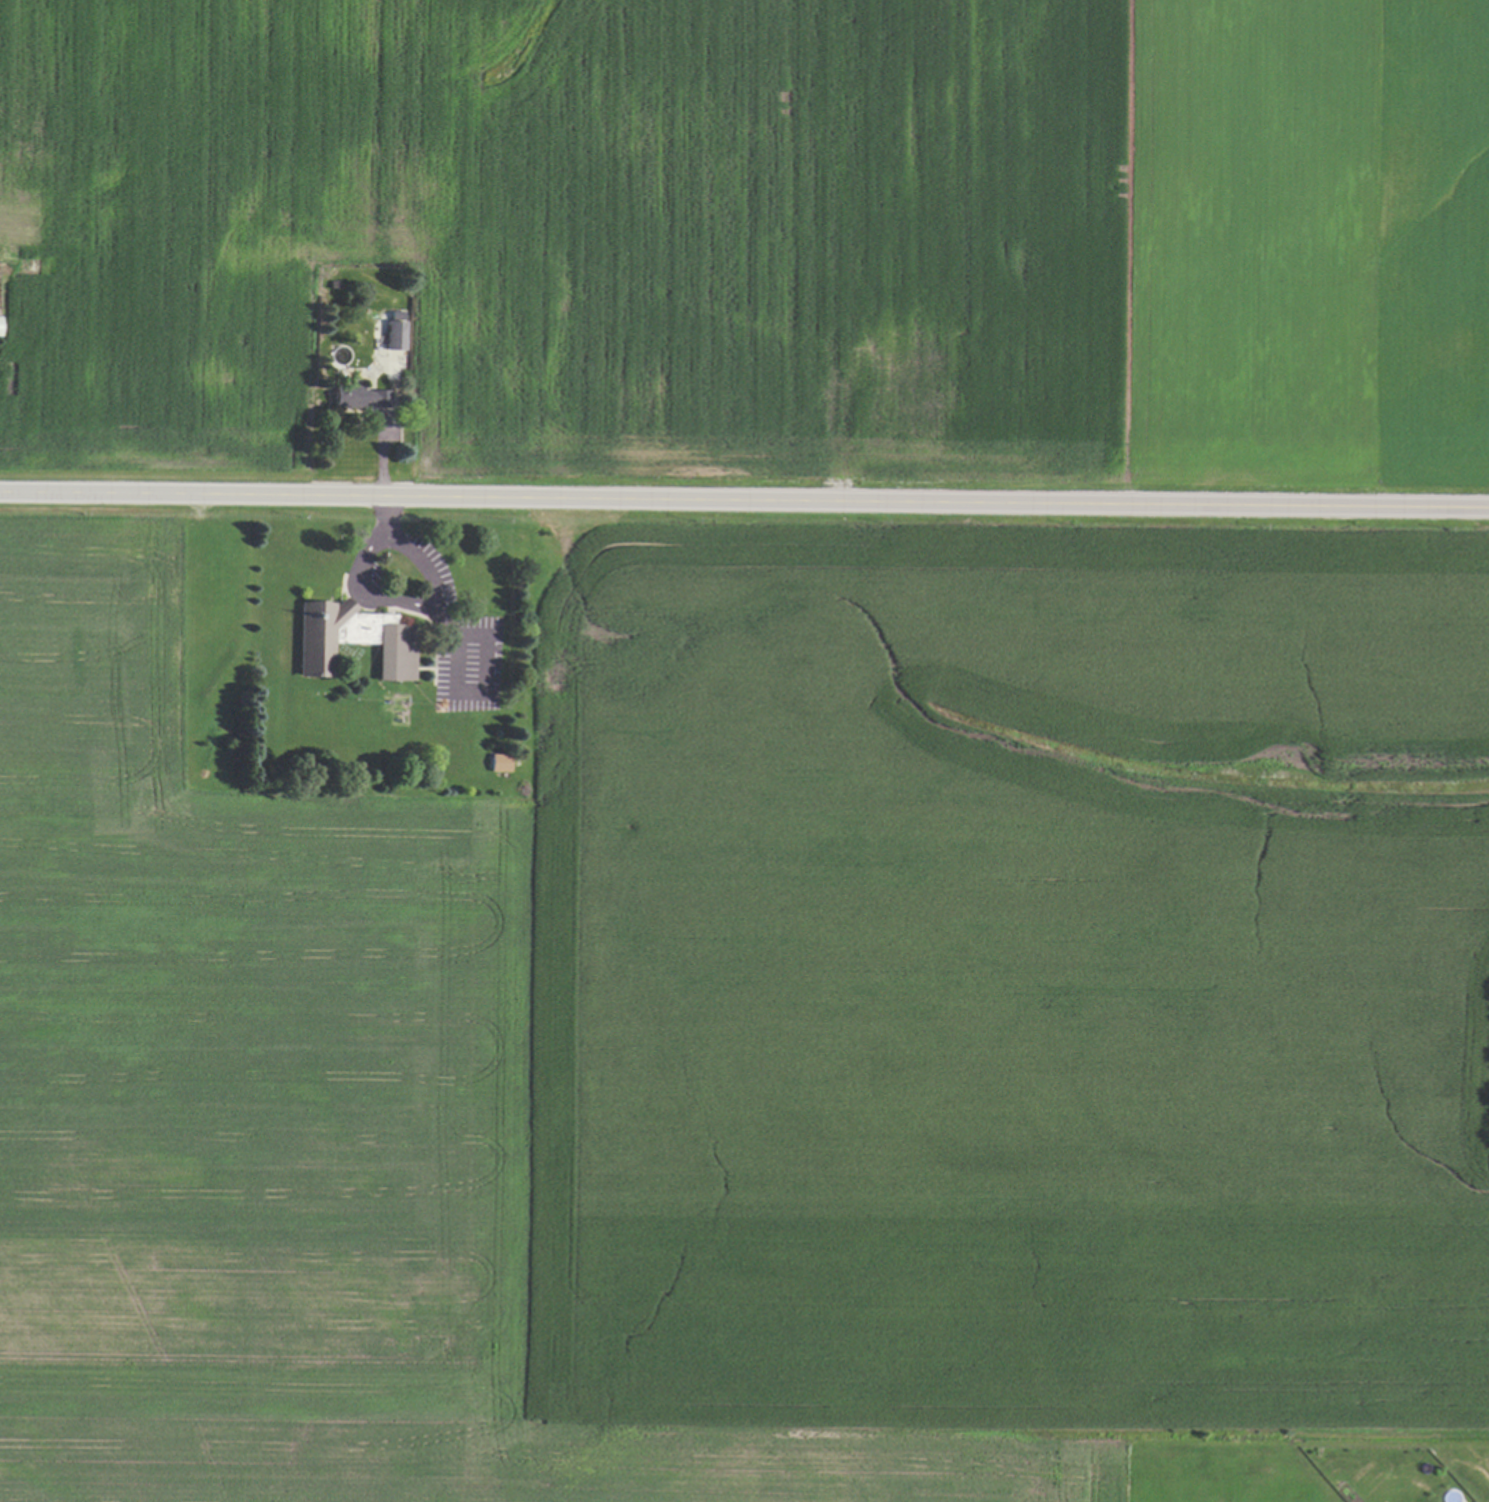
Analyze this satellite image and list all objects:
crop: (761, 236)
building: (395, 331)
building: (358, 397)
road: (744, 501)
road: (386, 516)
road: (372, 545)
road: (421, 561)
road: (382, 599)
building: (351, 641)
parking lot: (461, 648)
road: (464, 692)
building: (500, 762)
crop: (758, 1030)

